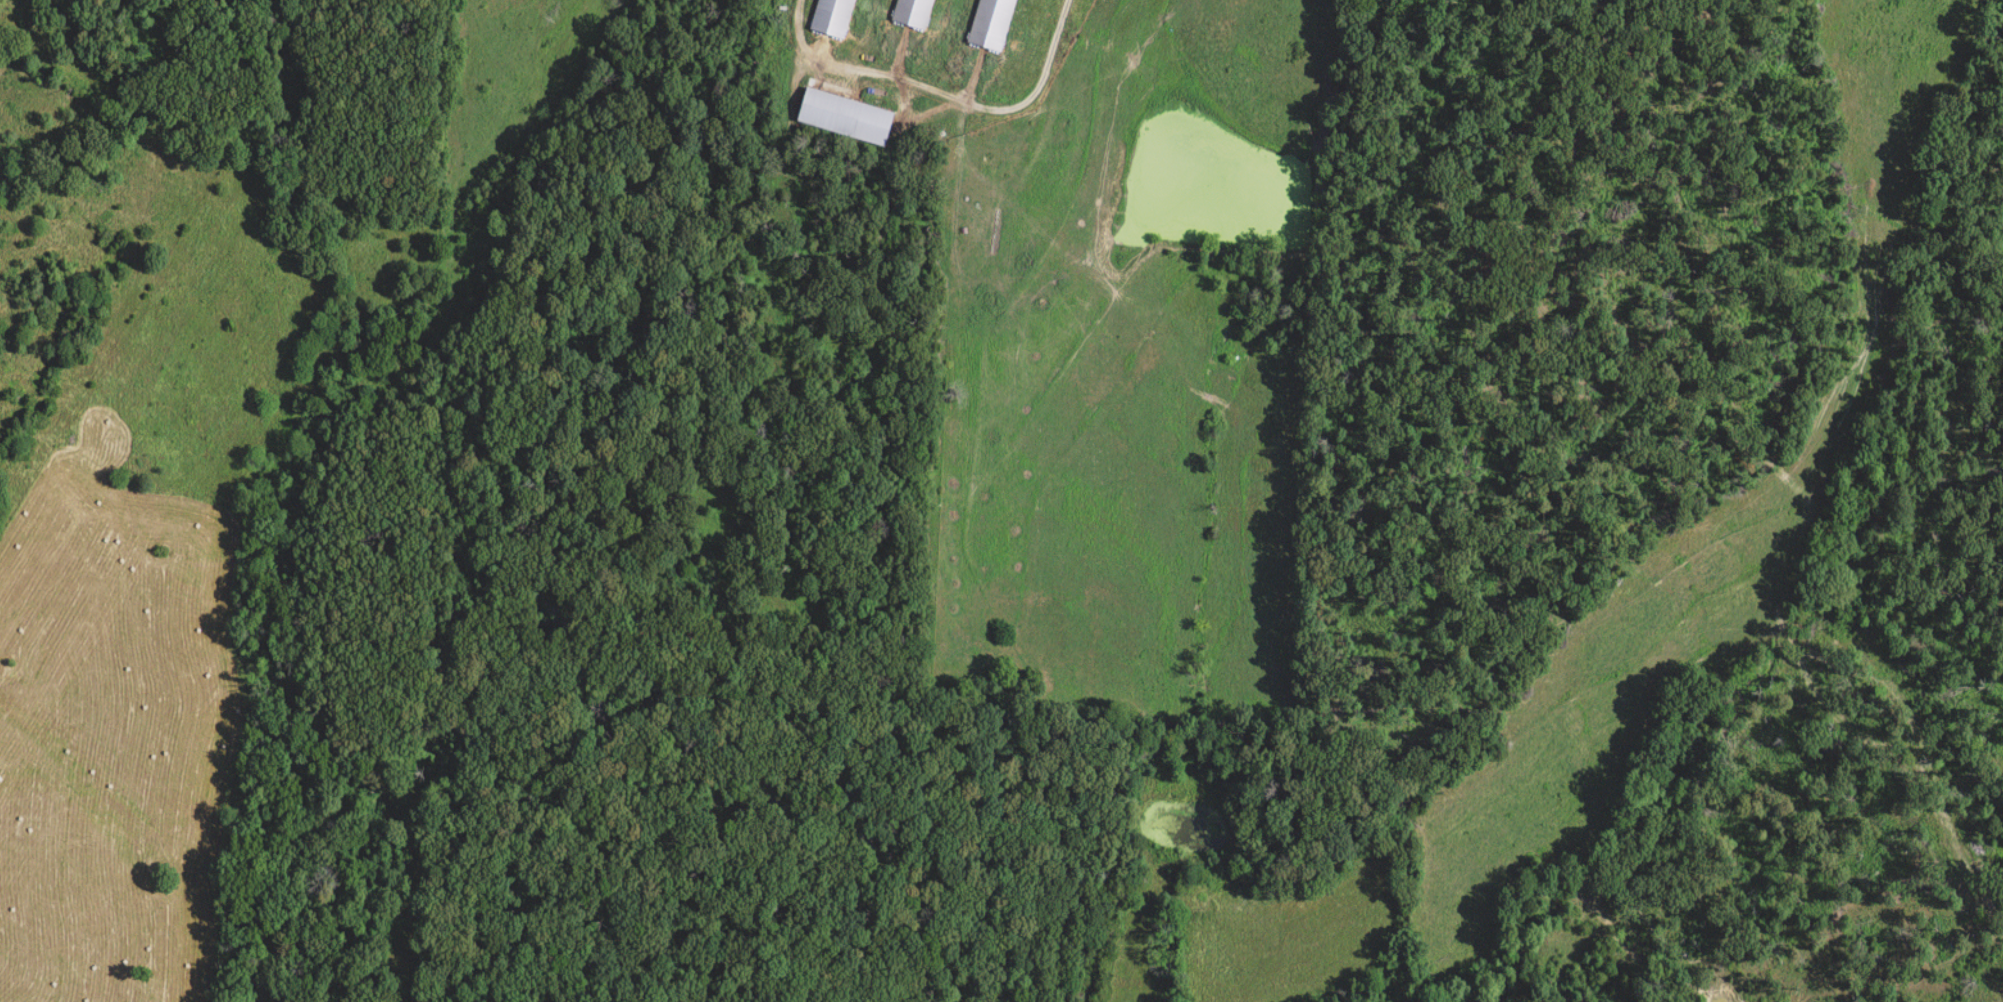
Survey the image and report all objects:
building: (913, 14)
building: (835, 18)
building: (992, 25)
building: (824, 112)

